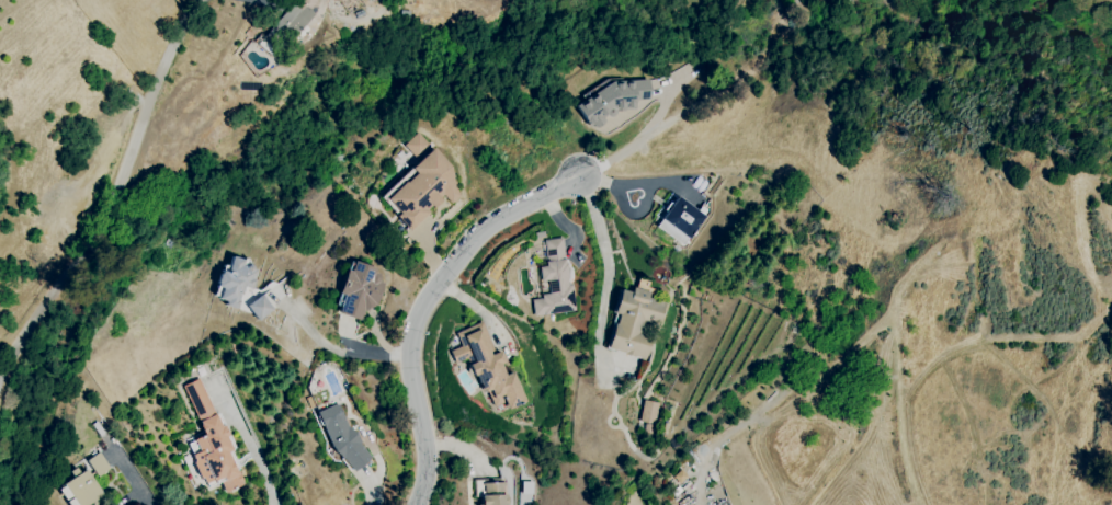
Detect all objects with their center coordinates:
building: (705, 1)
building: (292, 20)
building: (613, 101)
road: (642, 140)
building: (417, 146)
building: (421, 188)
road: (113, 197)
building: (682, 217)
road: (606, 269)
building: (235, 282)
building: (555, 282)
building: (360, 290)
road: (424, 306)
building: (259, 307)
building: (634, 322)
road: (336, 349)
building: (487, 366)
building: (647, 412)
building: (342, 437)
road: (249, 440)
building: (212, 441)
building: (98, 464)
road: (129, 475)
building: (82, 487)
building: (490, 491)

